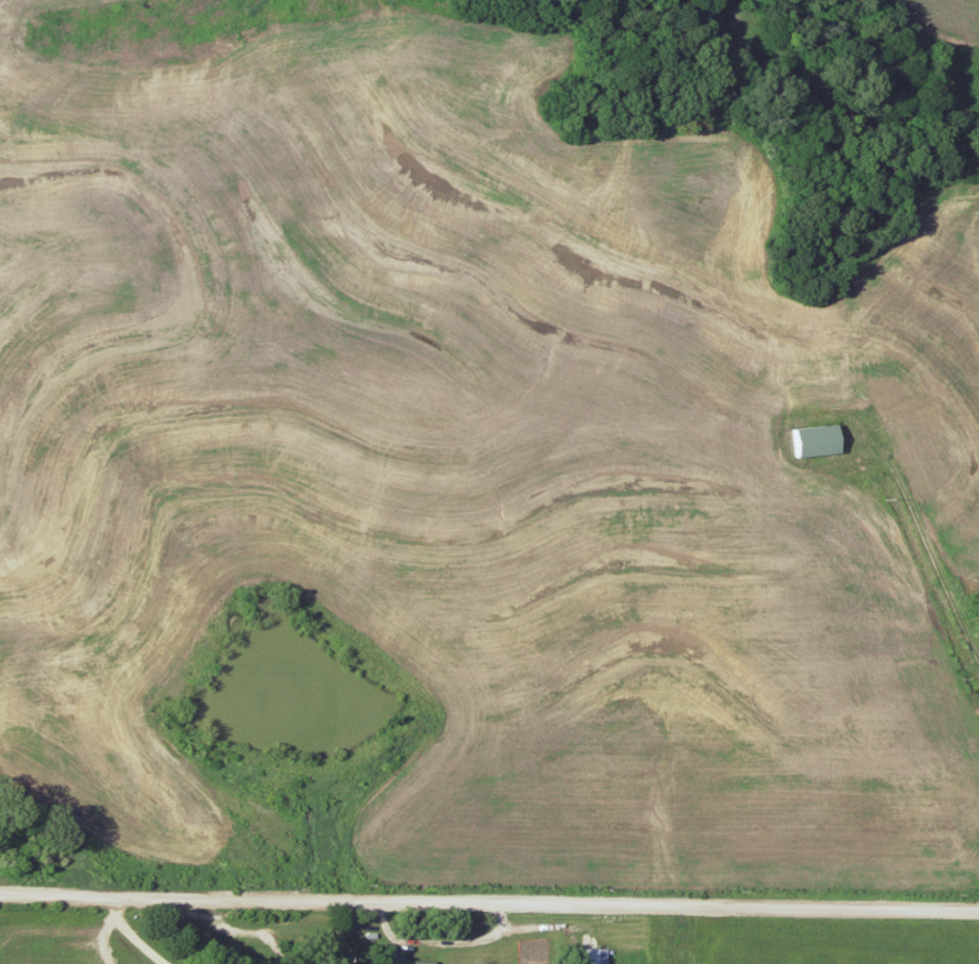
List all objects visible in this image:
building: (816, 441)
road: (926, 533)
road: (489, 905)
road: (87, 932)
road: (135, 936)
building: (594, 956)
building: (407, 960)

